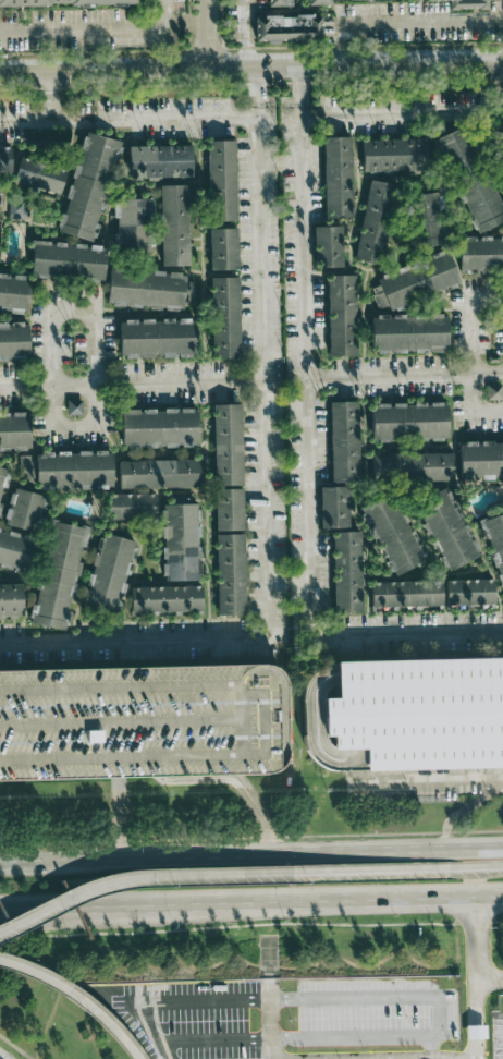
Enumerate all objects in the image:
building: (59, 2)
building: (279, 2)
building: (318, 2)
building: (467, 3)
road: (162, 13)
road: (403, 23)
road: (103, 27)
building: (289, 27)
road: (207, 34)
road: (244, 35)
road: (380, 63)
road: (128, 69)
road: (49, 82)
road: (297, 85)
road: (258, 86)
road: (50, 104)
road: (176, 112)
road: (1, 114)
road: (48, 114)
road: (400, 115)
building: (499, 145)
building: (387, 156)
building: (1, 161)
building: (152, 161)
building: (496, 163)
building: (32, 176)
building: (332, 179)
building: (463, 180)
building: (217, 182)
building: (81, 188)
building: (16, 206)
building: (419, 222)
building: (368, 223)
building: (126, 227)
building: (168, 227)
building: (323, 248)
building: (217, 249)
building: (477, 257)
building: (61, 261)
building: (410, 281)
building: (138, 290)
building: (10, 294)
building: (335, 318)
building: (217, 320)
building: (403, 332)
building: (150, 340)
building: (11, 341)
road: (100, 346)
road: (467, 361)
road: (406, 374)
road: (131, 384)
building: (493, 391)
building: (74, 406)
building: (404, 423)
building: (154, 428)
building: (13, 430)
building: (339, 443)
building: (221, 446)
building: (478, 461)
road: (312, 465)
building: (406, 467)
building: (68, 472)
building: (1, 475)
building: (154, 475)
road: (263, 504)
building: (125, 507)
building: (329, 508)
building: (16, 511)
building: (223, 511)
building: (440, 531)
building: (387, 536)
building: (175, 543)
building: (493, 545)
building: (11, 551)
building: (342, 573)
building: (52, 574)
building: (103, 574)
building: (224, 577)
building: (465, 594)
building: (401, 596)
building: (162, 599)
building: (8, 601)
building: (419, 713)
parking lot: (413, 715)
building: (138, 722)
parking garage: (138, 722)
road: (427, 779)
road: (241, 783)
road: (462, 810)
road: (119, 821)
road: (251, 859)
road: (477, 866)
road: (220, 873)
road: (316, 901)
road: (65, 906)
road: (251, 925)
road: (222, 963)
road: (476, 978)
road: (40, 979)
road: (489, 982)
road: (221, 1001)
airport: (258, 1019)
parking lot: (292, 1019)
road: (275, 1022)
road: (50, 1026)
road: (108, 1028)
parking lot: (498, 1028)
building: (475, 1032)
road: (367, 1035)
road: (15, 1047)
road: (163, 1050)

